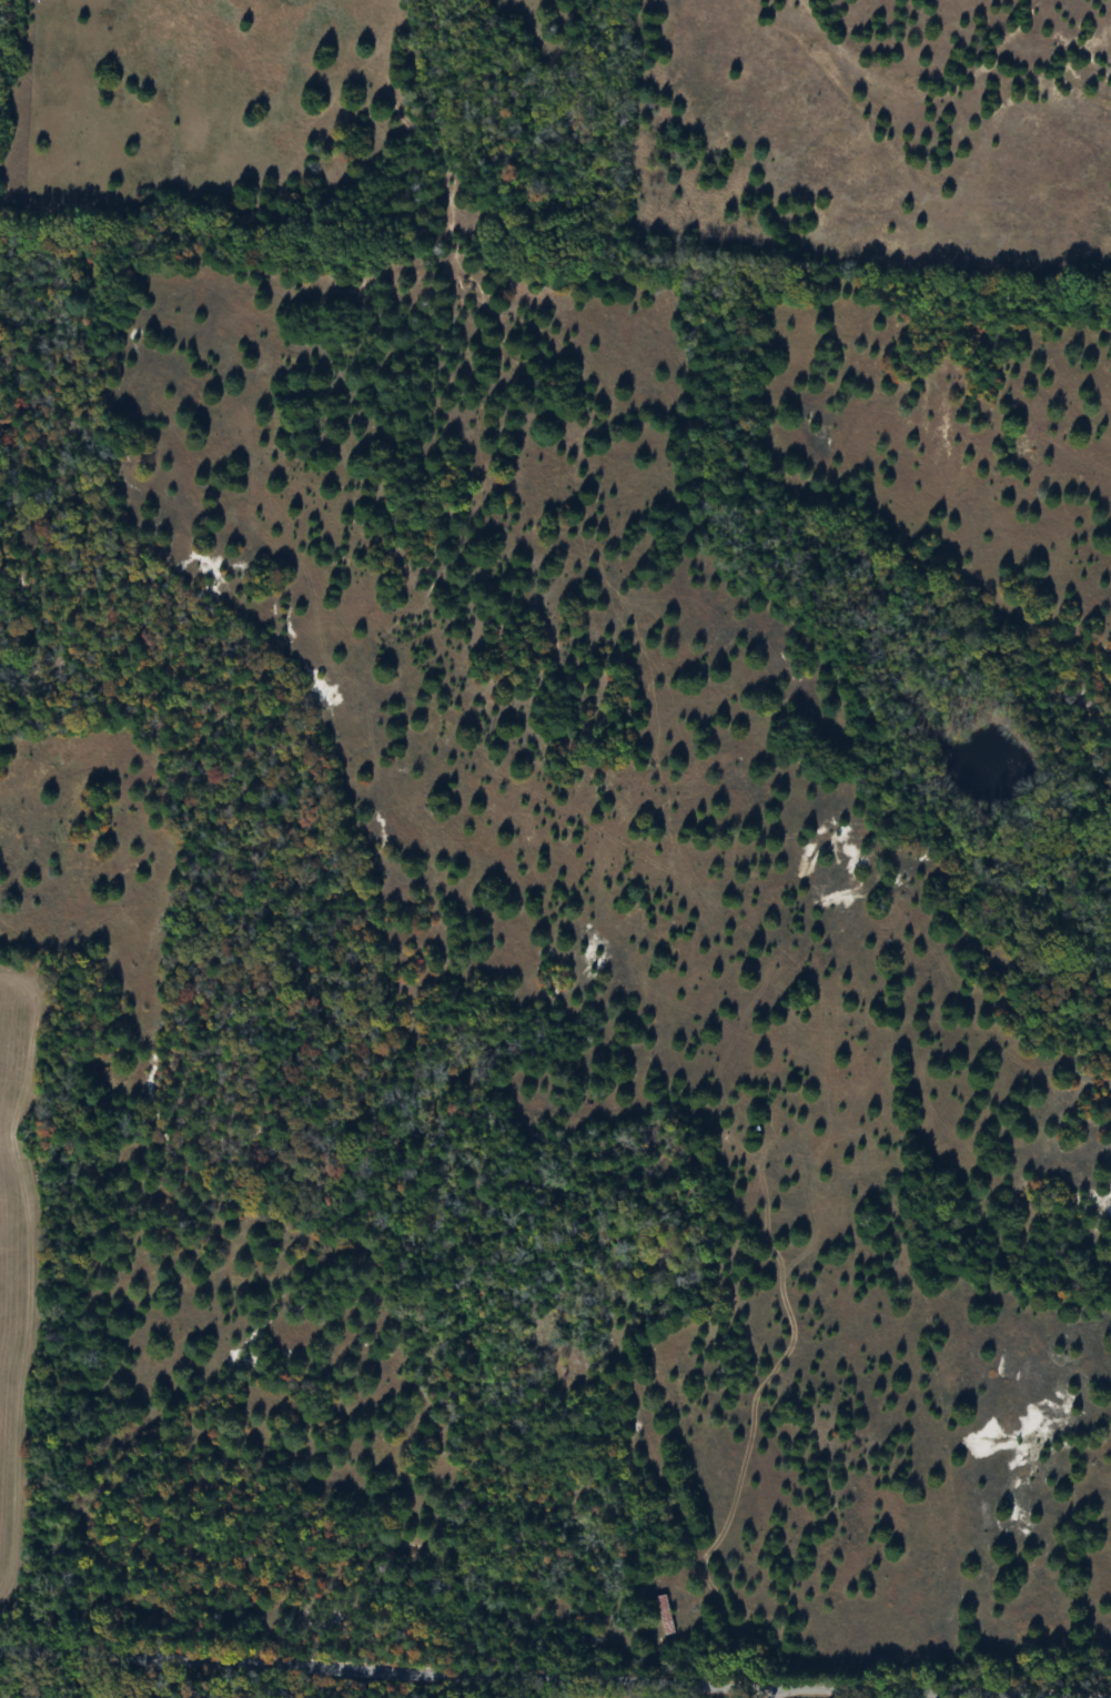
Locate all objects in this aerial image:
building: (664, 1615)
road: (555, 1676)
road: (772, 1692)

